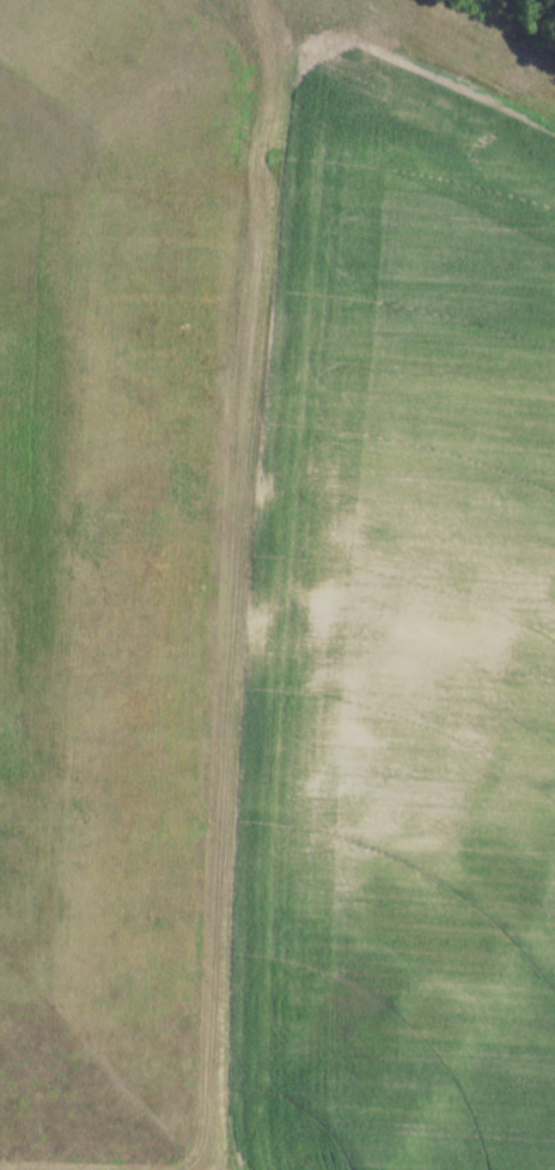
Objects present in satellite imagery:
wastewater plant: (532, 12)

